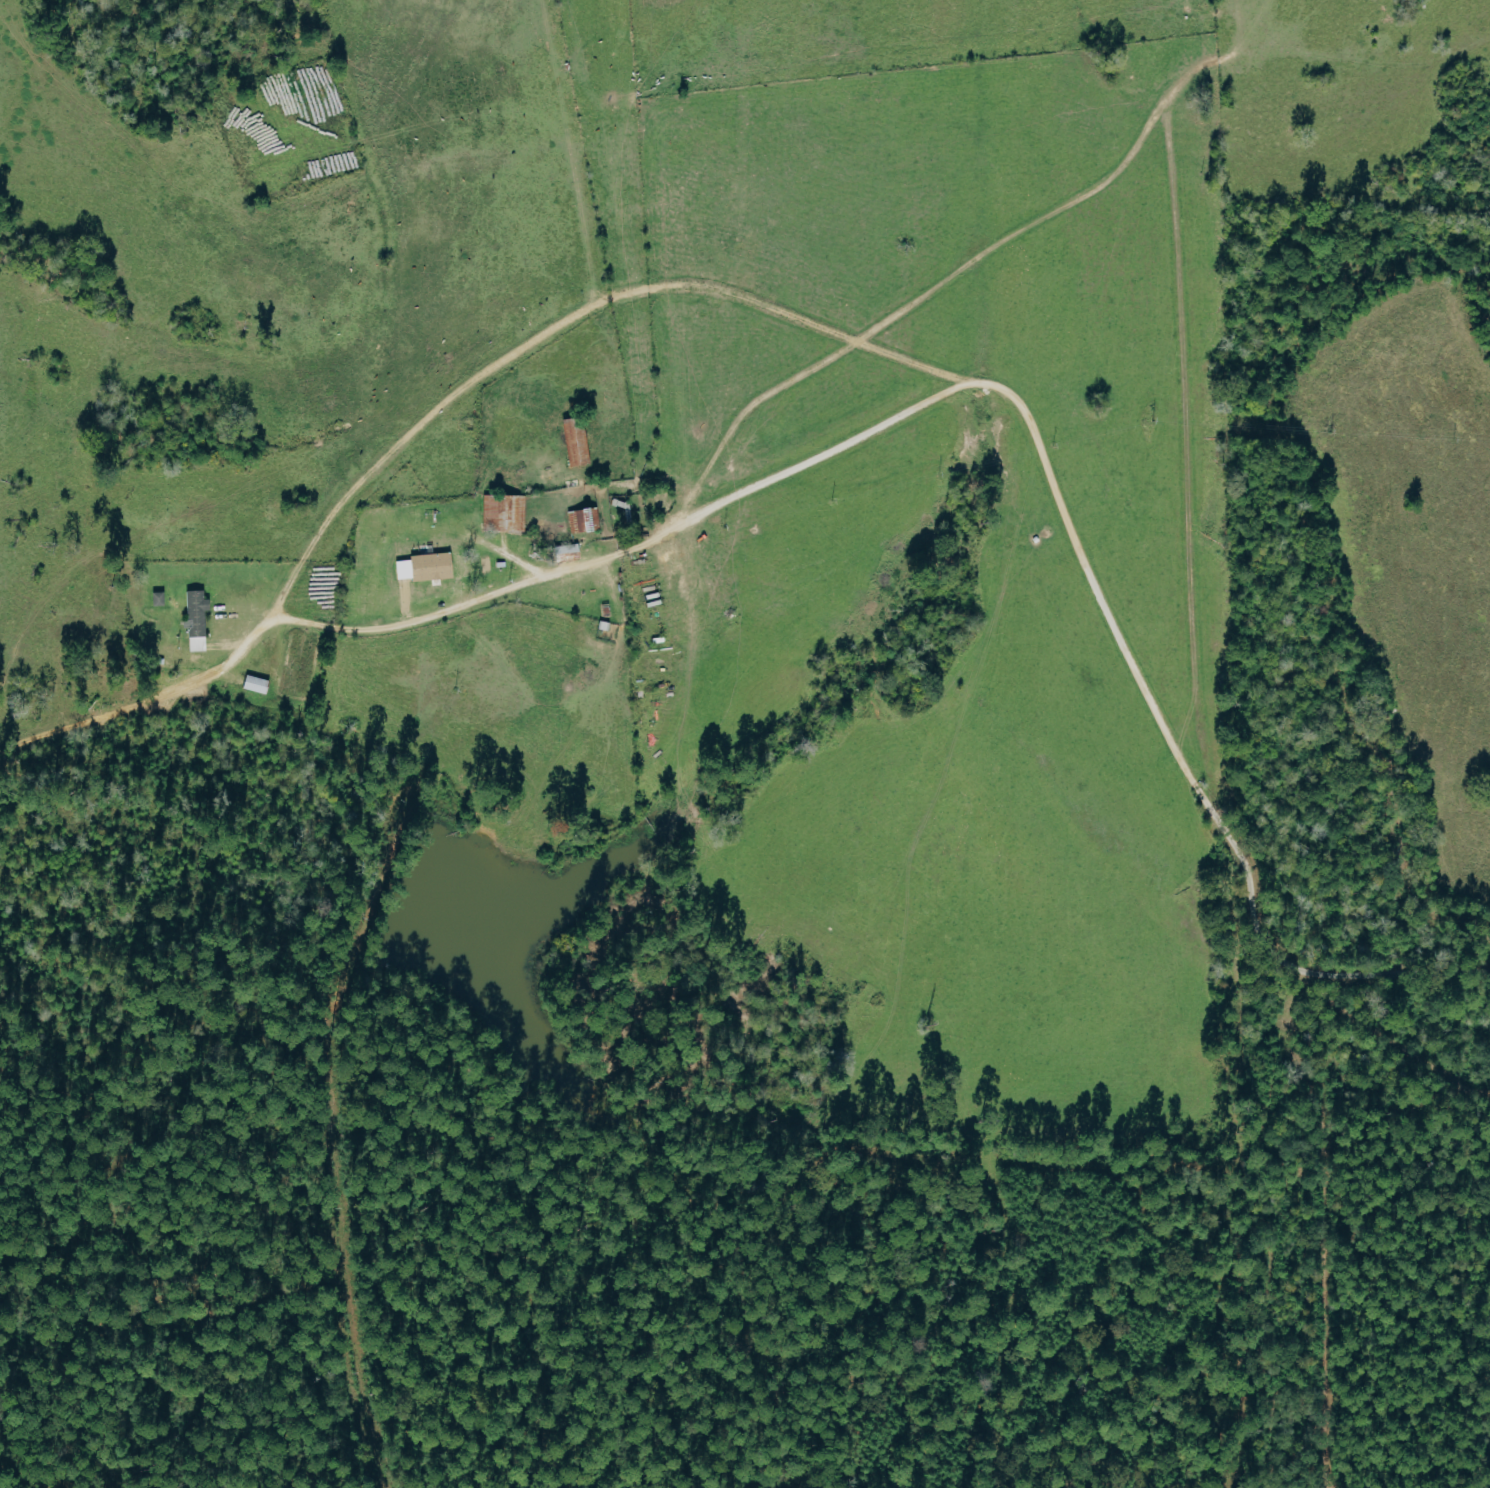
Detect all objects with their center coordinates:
road: (1213, 53)
road: (906, 302)
road: (888, 426)
road: (1188, 431)
building: (578, 440)
building: (506, 512)
building: (427, 566)
building: (160, 598)
building: (198, 619)
building: (257, 684)

